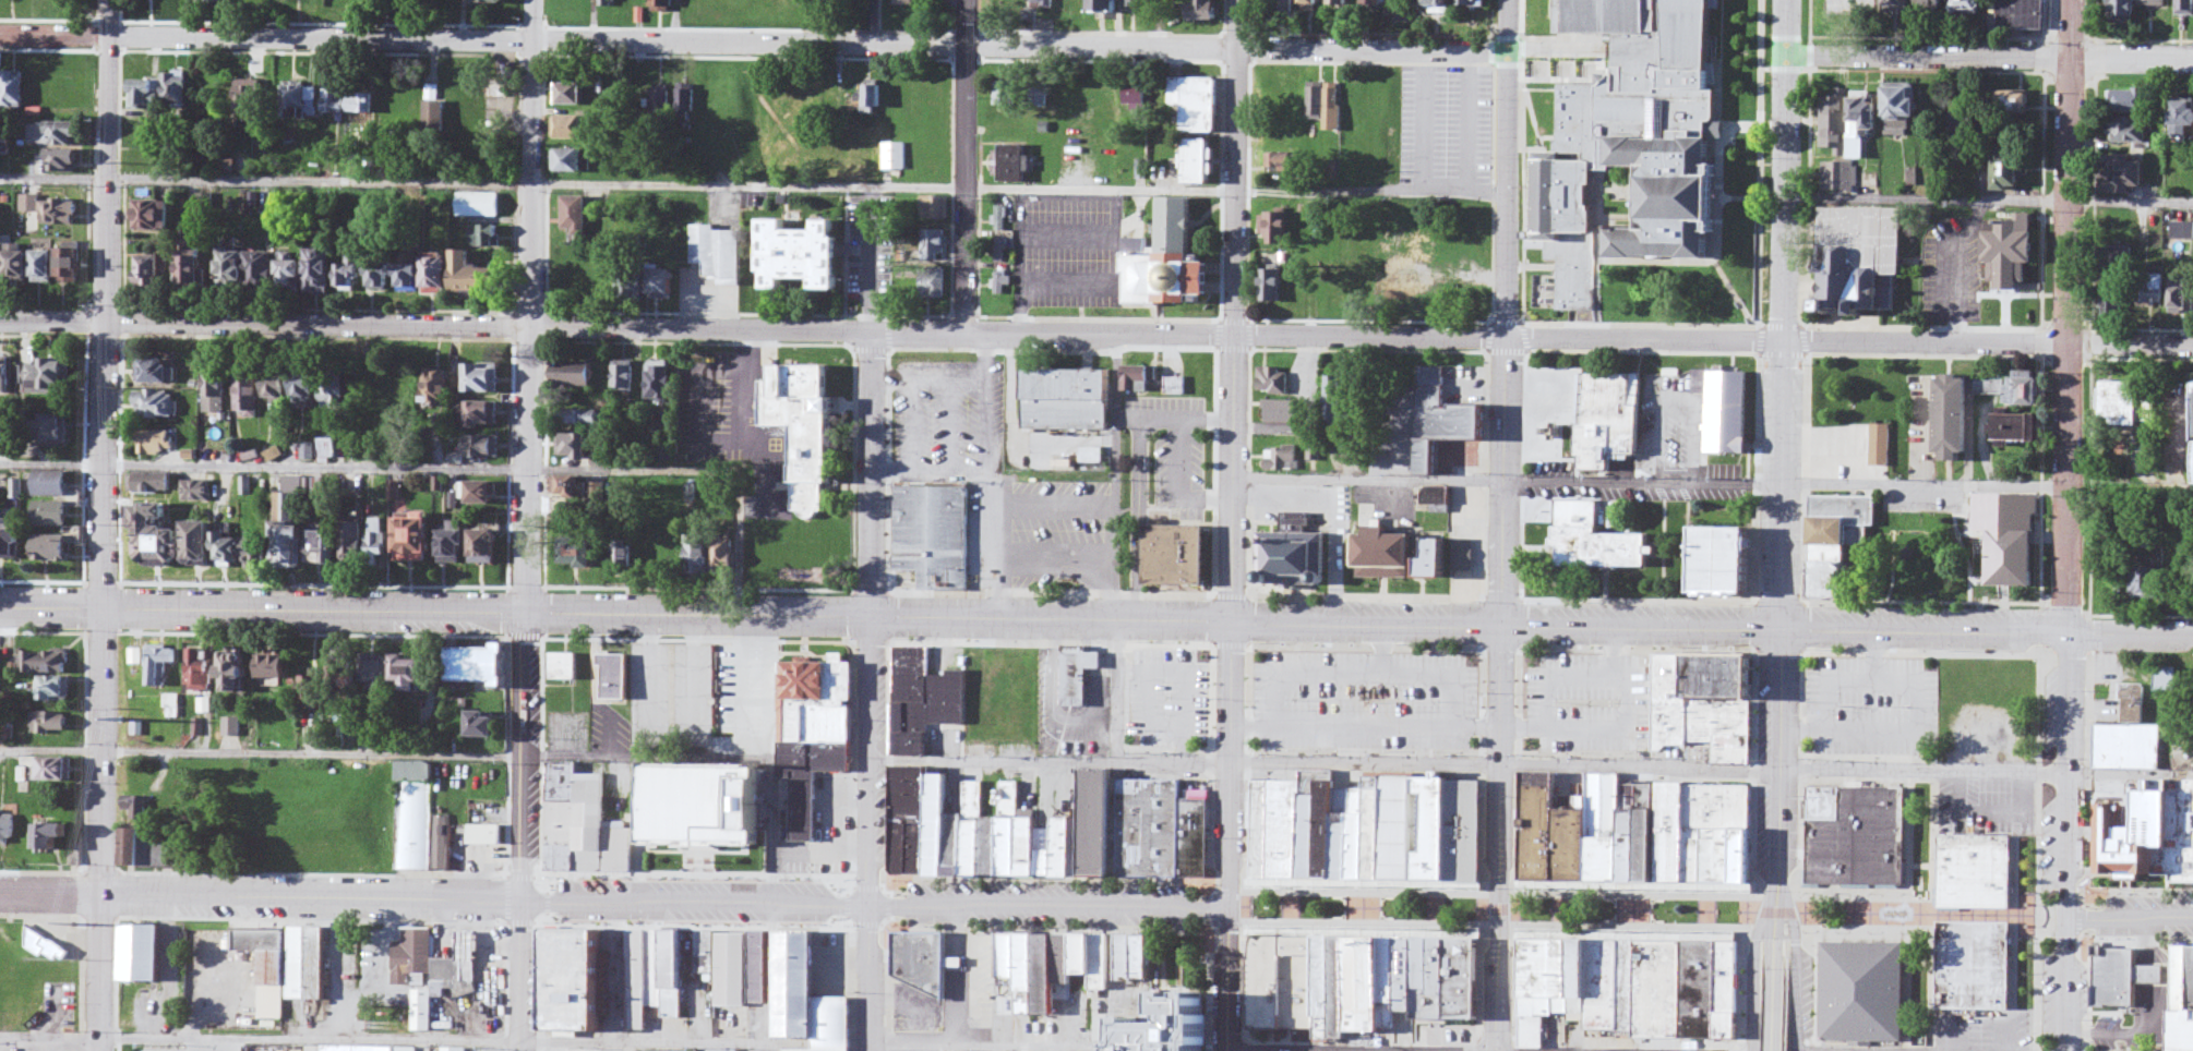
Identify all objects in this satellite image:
road: (754, 46)
road: (1987, 56)
building: (2183, 121)
building: (1632, 140)
road: (958, 164)
building: (2180, 231)
building: (2154, 291)
building: (2183, 298)
building: (2114, 302)
road: (1096, 329)
building: (1068, 387)
building: (2132, 407)
building: (1441, 415)
building: (1880, 437)
road: (104, 447)
road: (532, 448)
road: (1234, 452)
road: (1503, 455)
road: (1779, 457)
road: (2064, 458)
road: (1921, 473)
road: (700, 475)
road: (1368, 480)
building: (1176, 542)
building: (1462, 546)
building: (1292, 547)
building: (1385, 548)
building: (1604, 549)
building: (1433, 559)
building: (2144, 583)
road: (873, 614)
road: (1095, 615)
building: (1998, 679)
building: (2129, 738)
road: (722, 751)
building: (704, 792)
building: (1318, 822)
building: (1400, 824)
building: (1856, 824)
building: (1376, 825)
building: (1431, 825)
building: (1284, 827)
building: (1466, 827)
building: (1259, 829)
building: (1341, 831)
building: (2150, 831)
building: (1358, 832)
building: (1977, 862)
road: (614, 898)
road: (1644, 911)
road: (2126, 916)
road: (1773, 932)
building: (139, 942)
building: (1975, 966)
road: (1796, 969)
building: (1406, 973)
road: (1754, 973)
road: (99, 974)
road: (527, 974)
building: (1431, 974)
building: (1325, 975)
building: (1464, 976)
road: (871, 977)
building: (2121, 977)
road: (1229, 978)
building: (1391, 979)
road: (1500, 980)
building: (1864, 980)
building: (1283, 981)
building: (1367, 982)
road: (2059, 982)
building: (1342, 987)
building: (2182, 999)
road: (1772, 1001)
road: (615, 1036)
road: (1255, 1050)

